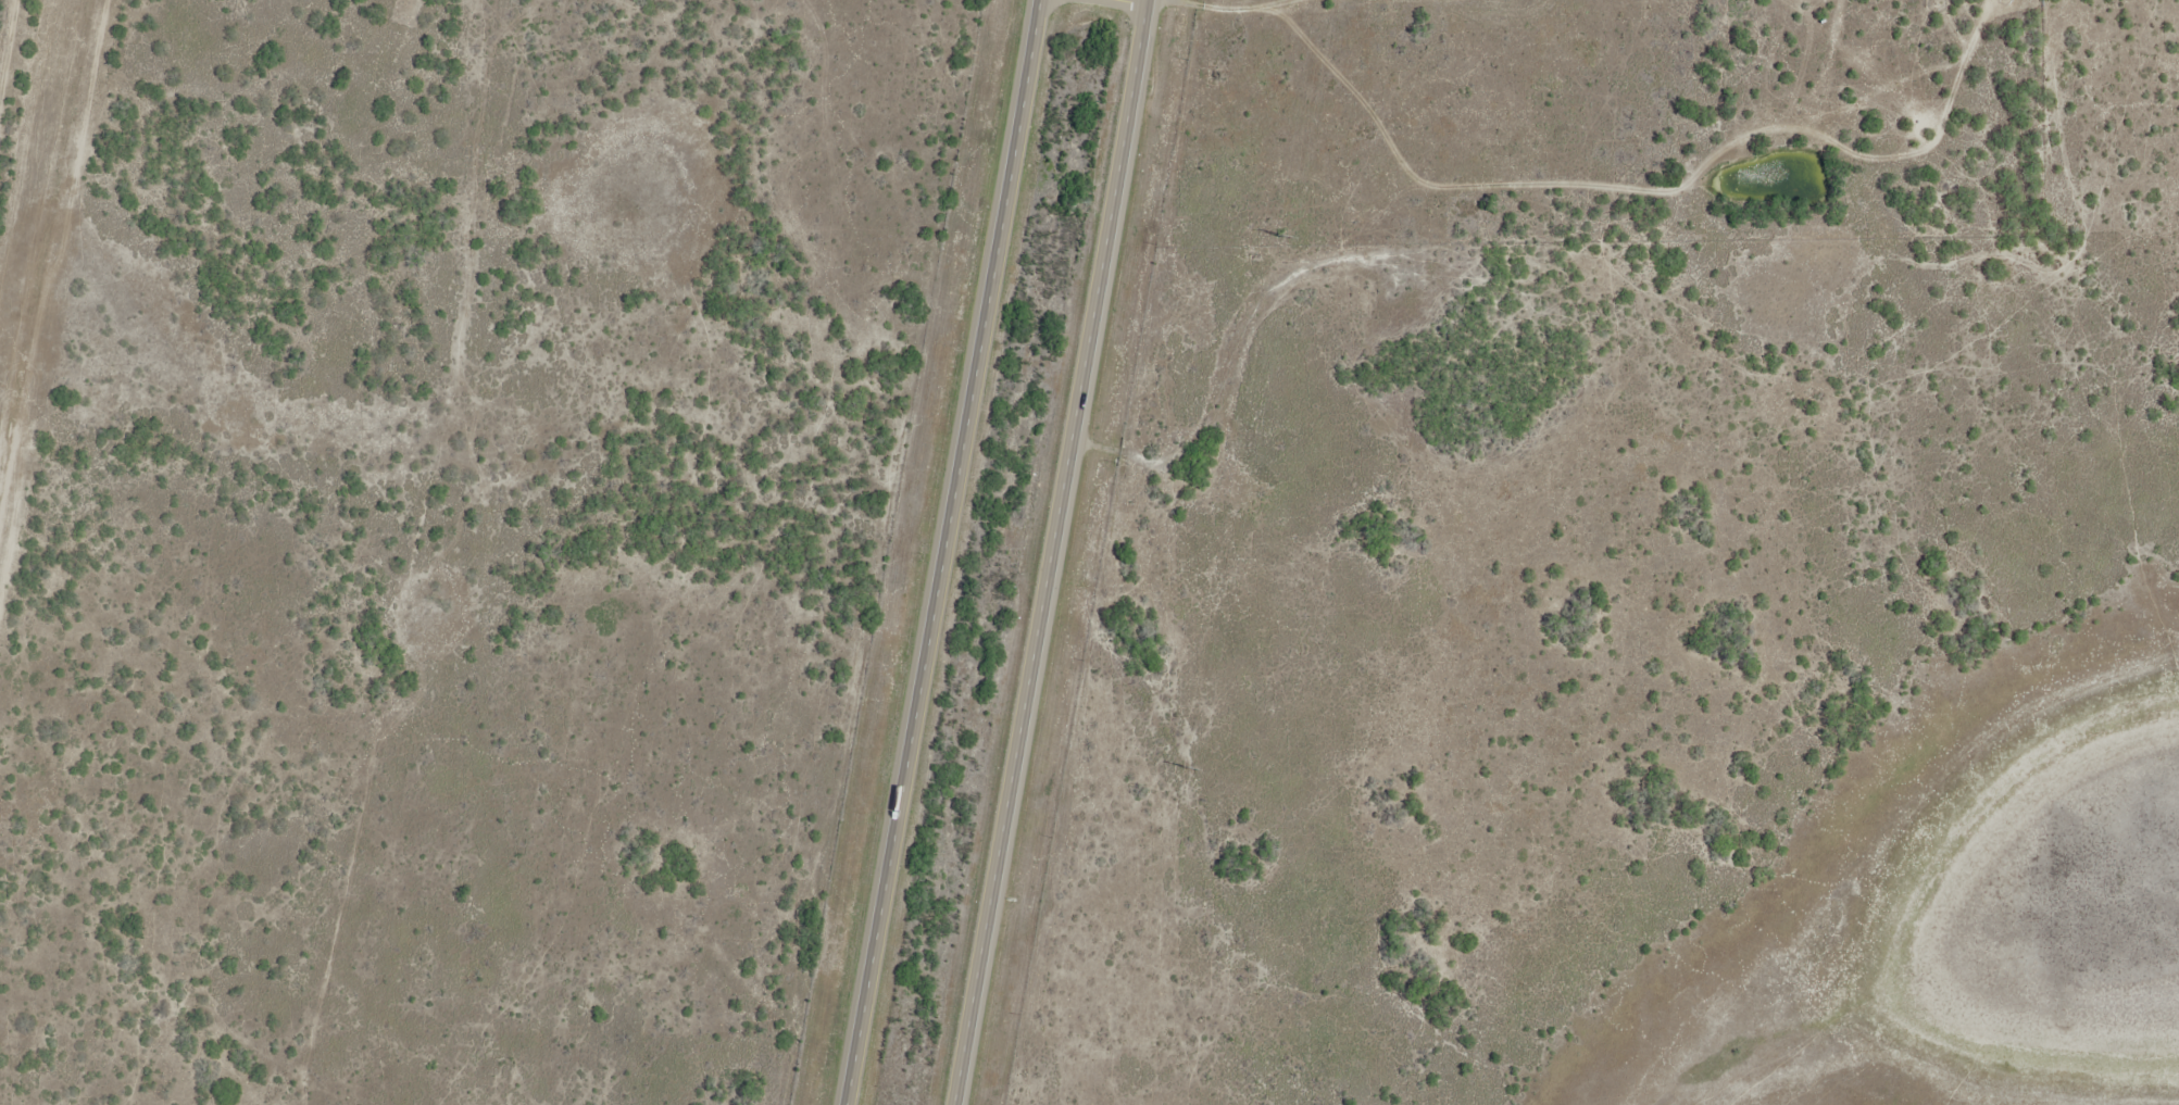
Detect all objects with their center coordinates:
road: (1143, 1)
power tower: (1282, 236)
road: (1057, 552)
road: (953, 553)
power tower: (1188, 767)

